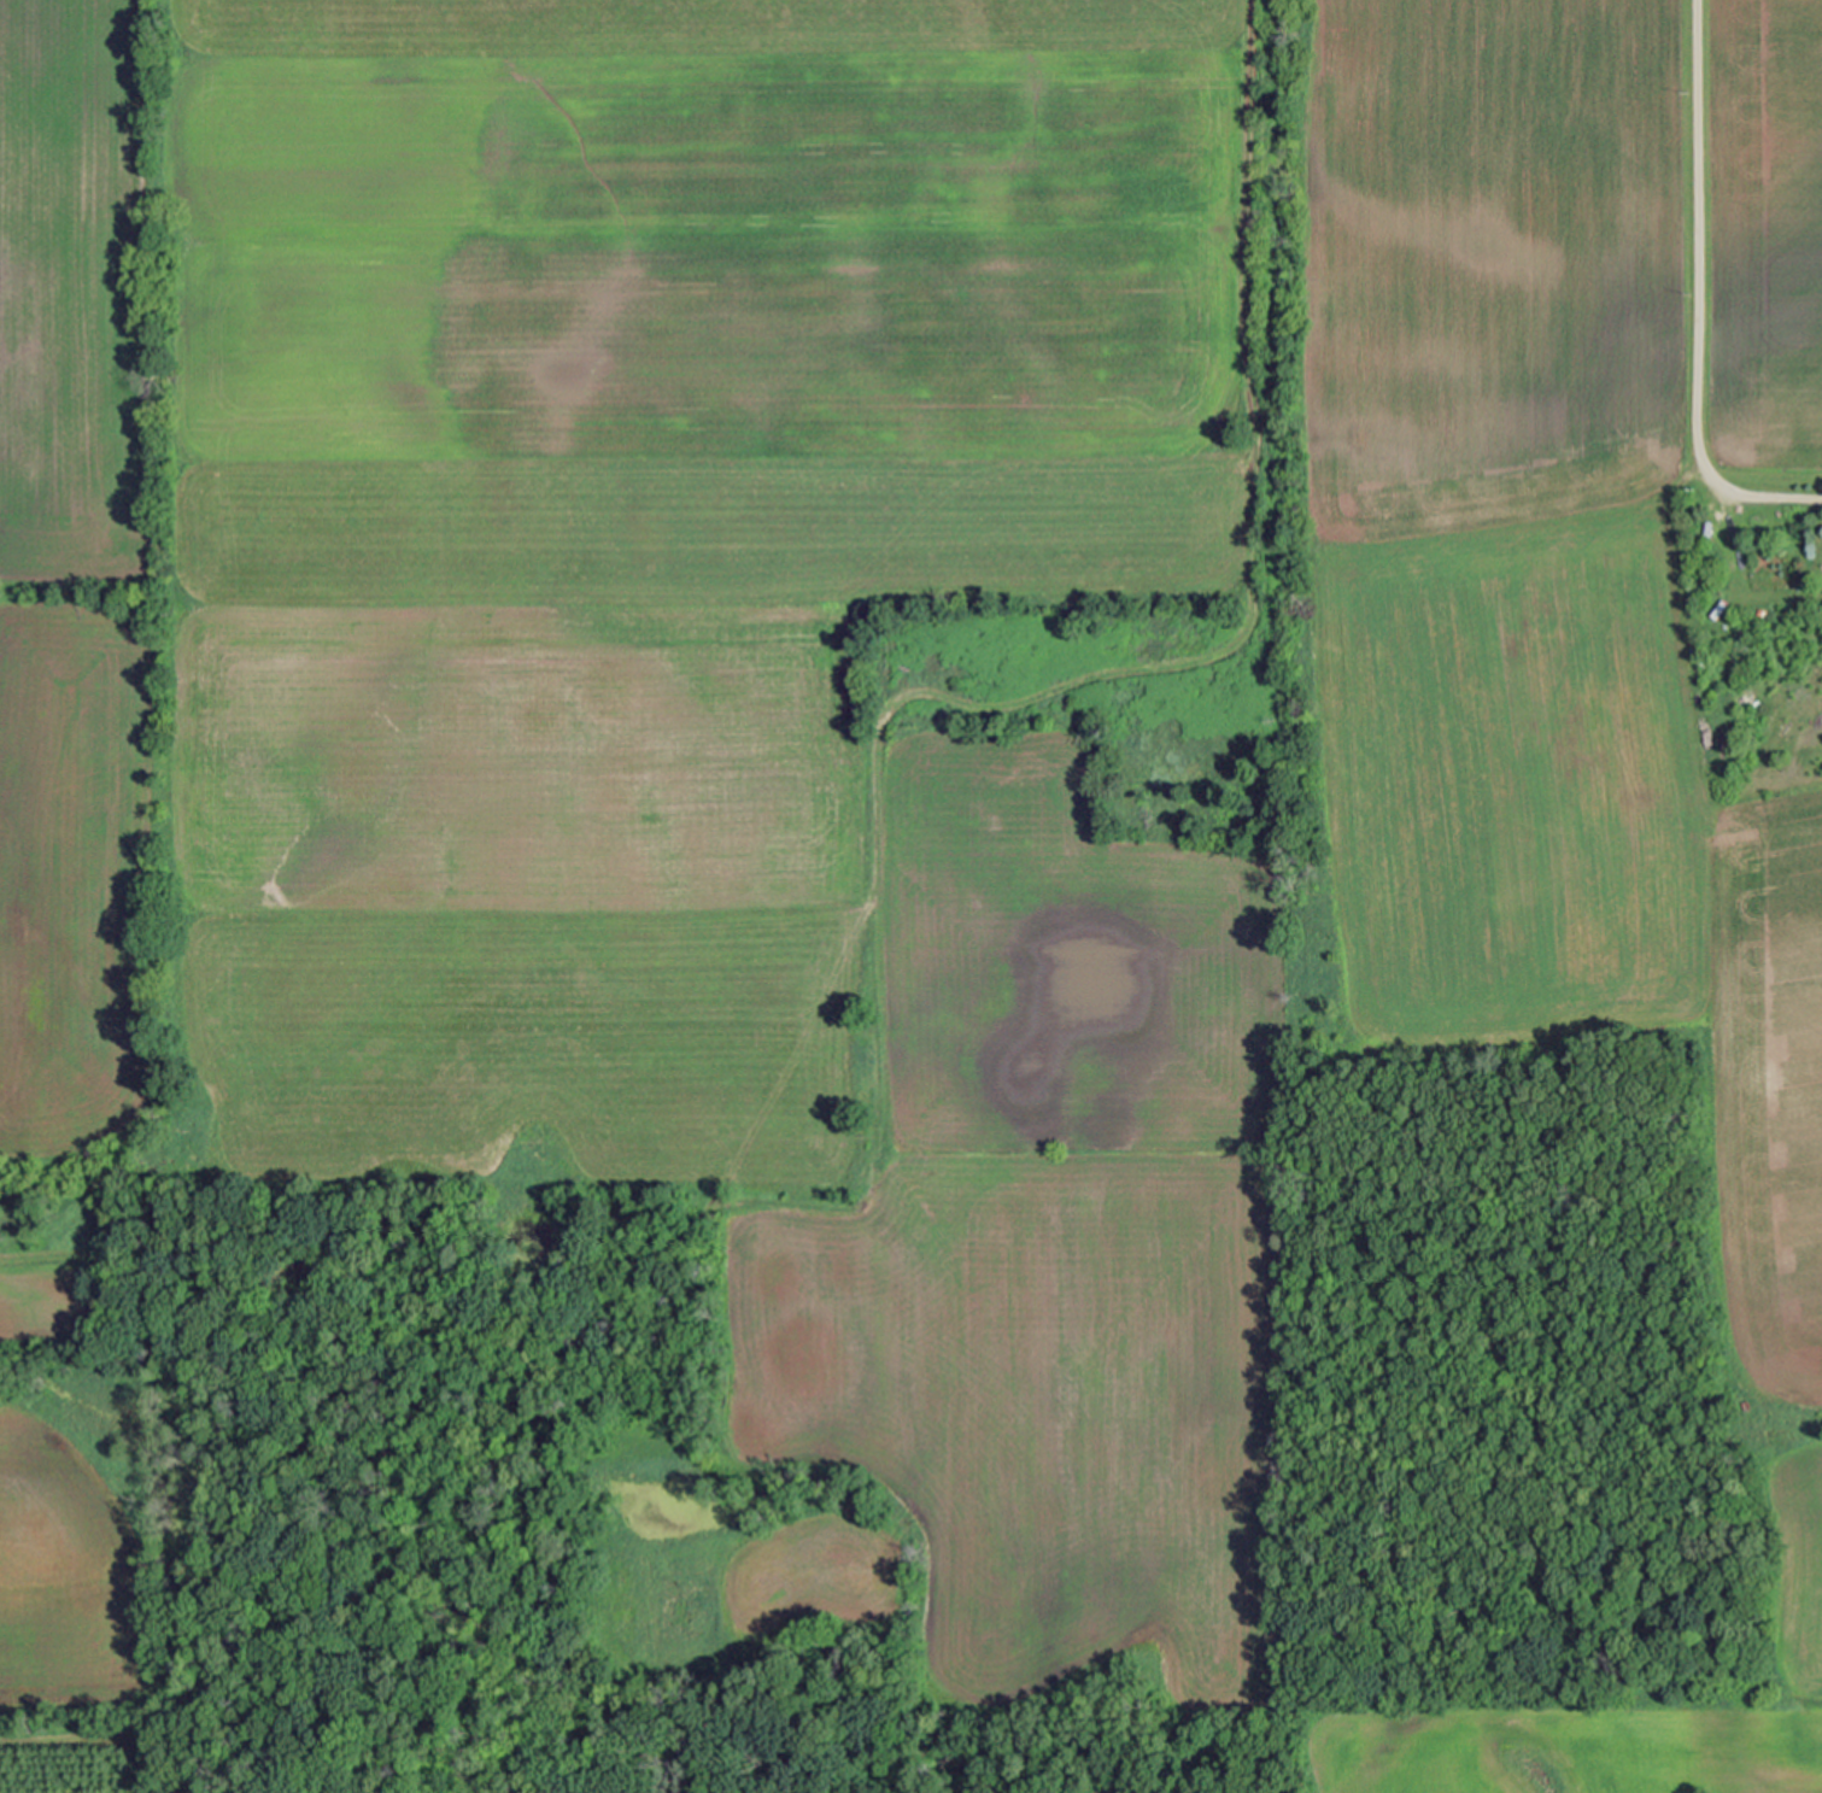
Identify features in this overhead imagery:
road: (1692, 299)
building: (1765, 614)
building: (1234, 651)
building: (145, 1281)
building: (1506, 1398)
building: (1744, 1404)
building: (1789, 1693)

